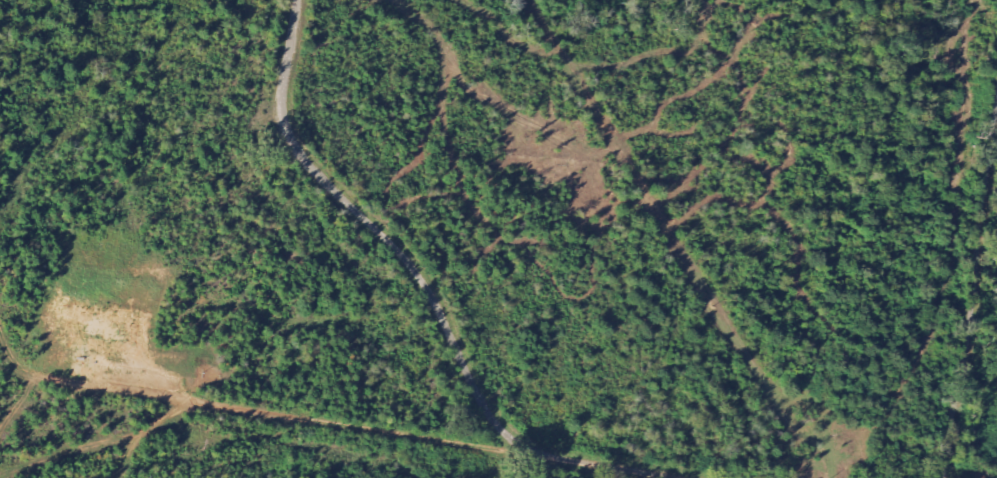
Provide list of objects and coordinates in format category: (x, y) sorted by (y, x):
road: (930, 237)

